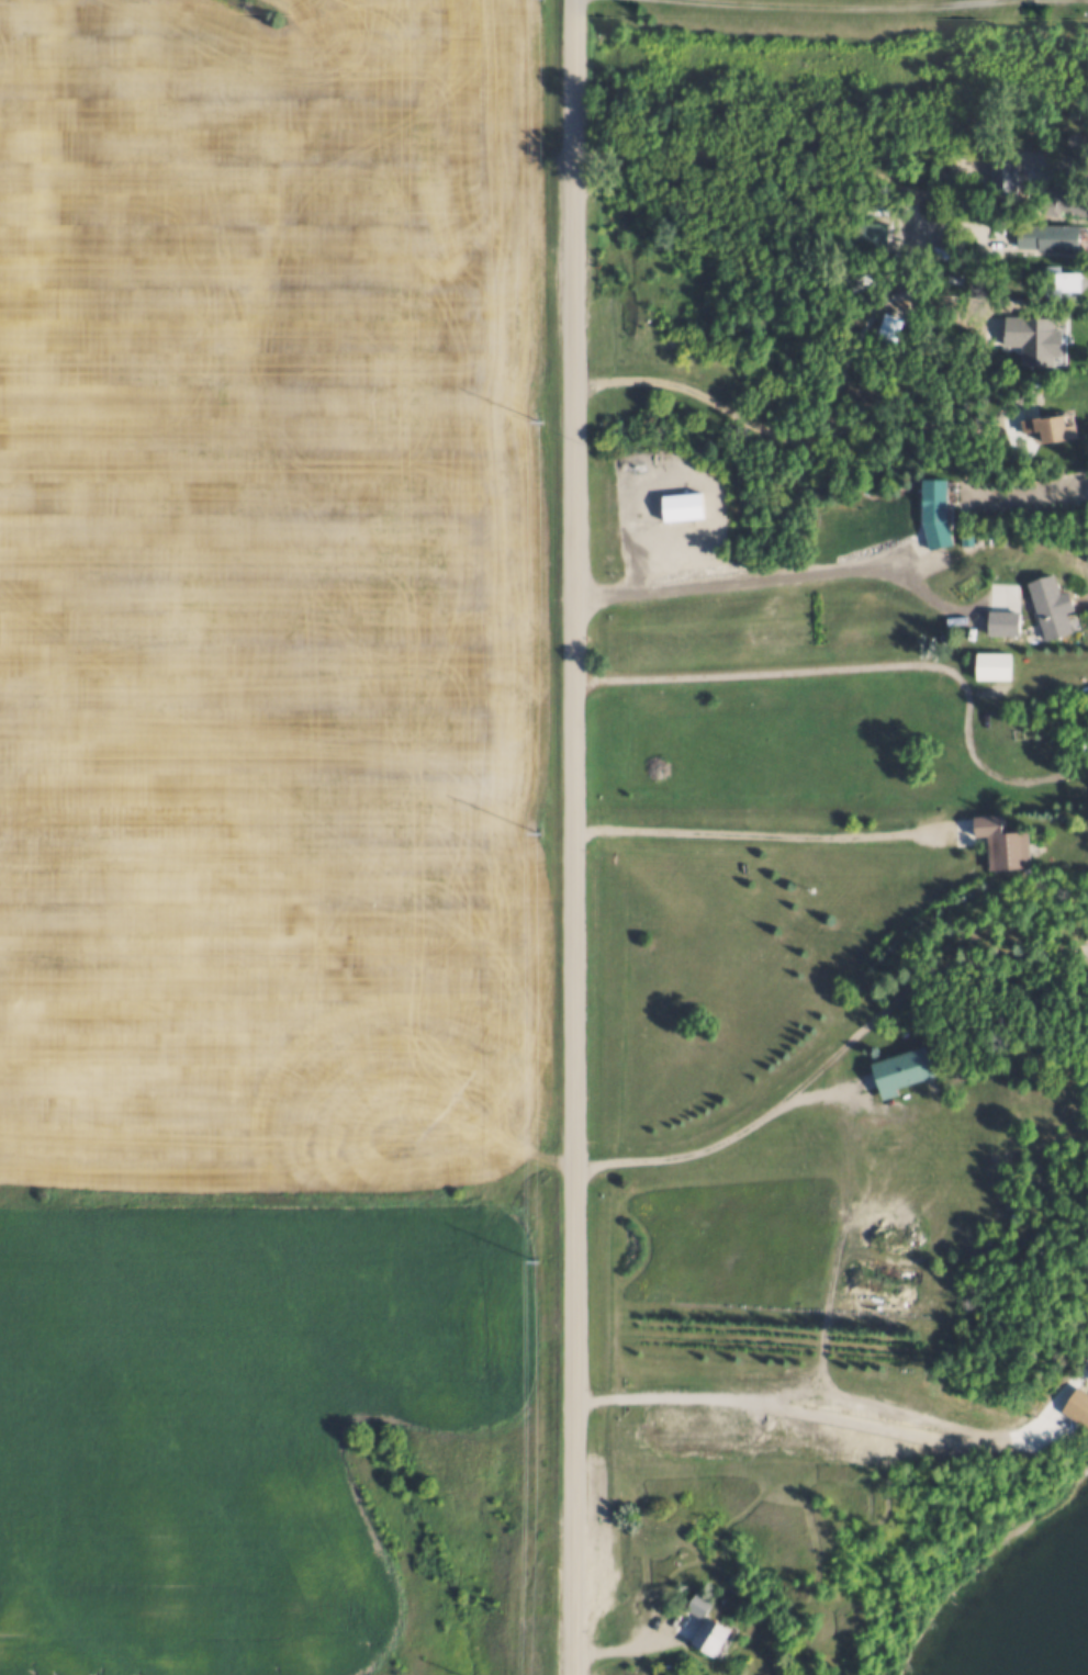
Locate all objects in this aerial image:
road: (585, 1)
road: (862, 12)
building: (1086, 121)
road: (749, 156)
building: (998, 177)
building: (867, 233)
building: (1041, 234)
building: (852, 276)
building: (950, 276)
building: (1055, 279)
building: (885, 325)
building: (1027, 336)
building: (1067, 345)
road: (664, 389)
building: (1040, 426)
road: (805, 486)
building: (673, 506)
building: (928, 512)
building: (944, 513)
road: (801, 581)
building: (1039, 605)
building: (1056, 608)
building: (983, 664)
road: (872, 672)
building: (1070, 747)
road: (574, 836)
building: (991, 841)
building: (895, 1068)
road: (767, 1114)
building: (1002, 1217)
road: (849, 1397)
building: (1072, 1406)
building: (689, 1603)
building: (699, 1634)
road: (631, 1643)

